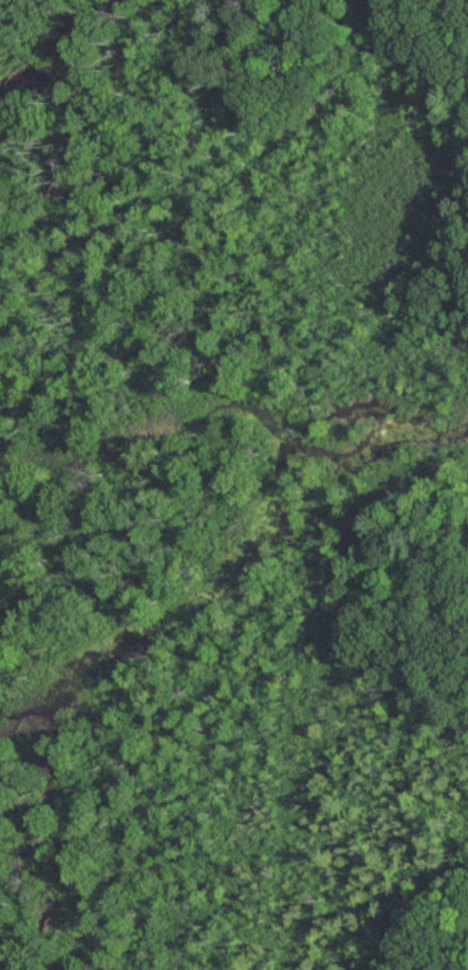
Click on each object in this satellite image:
river: (42, 48)

